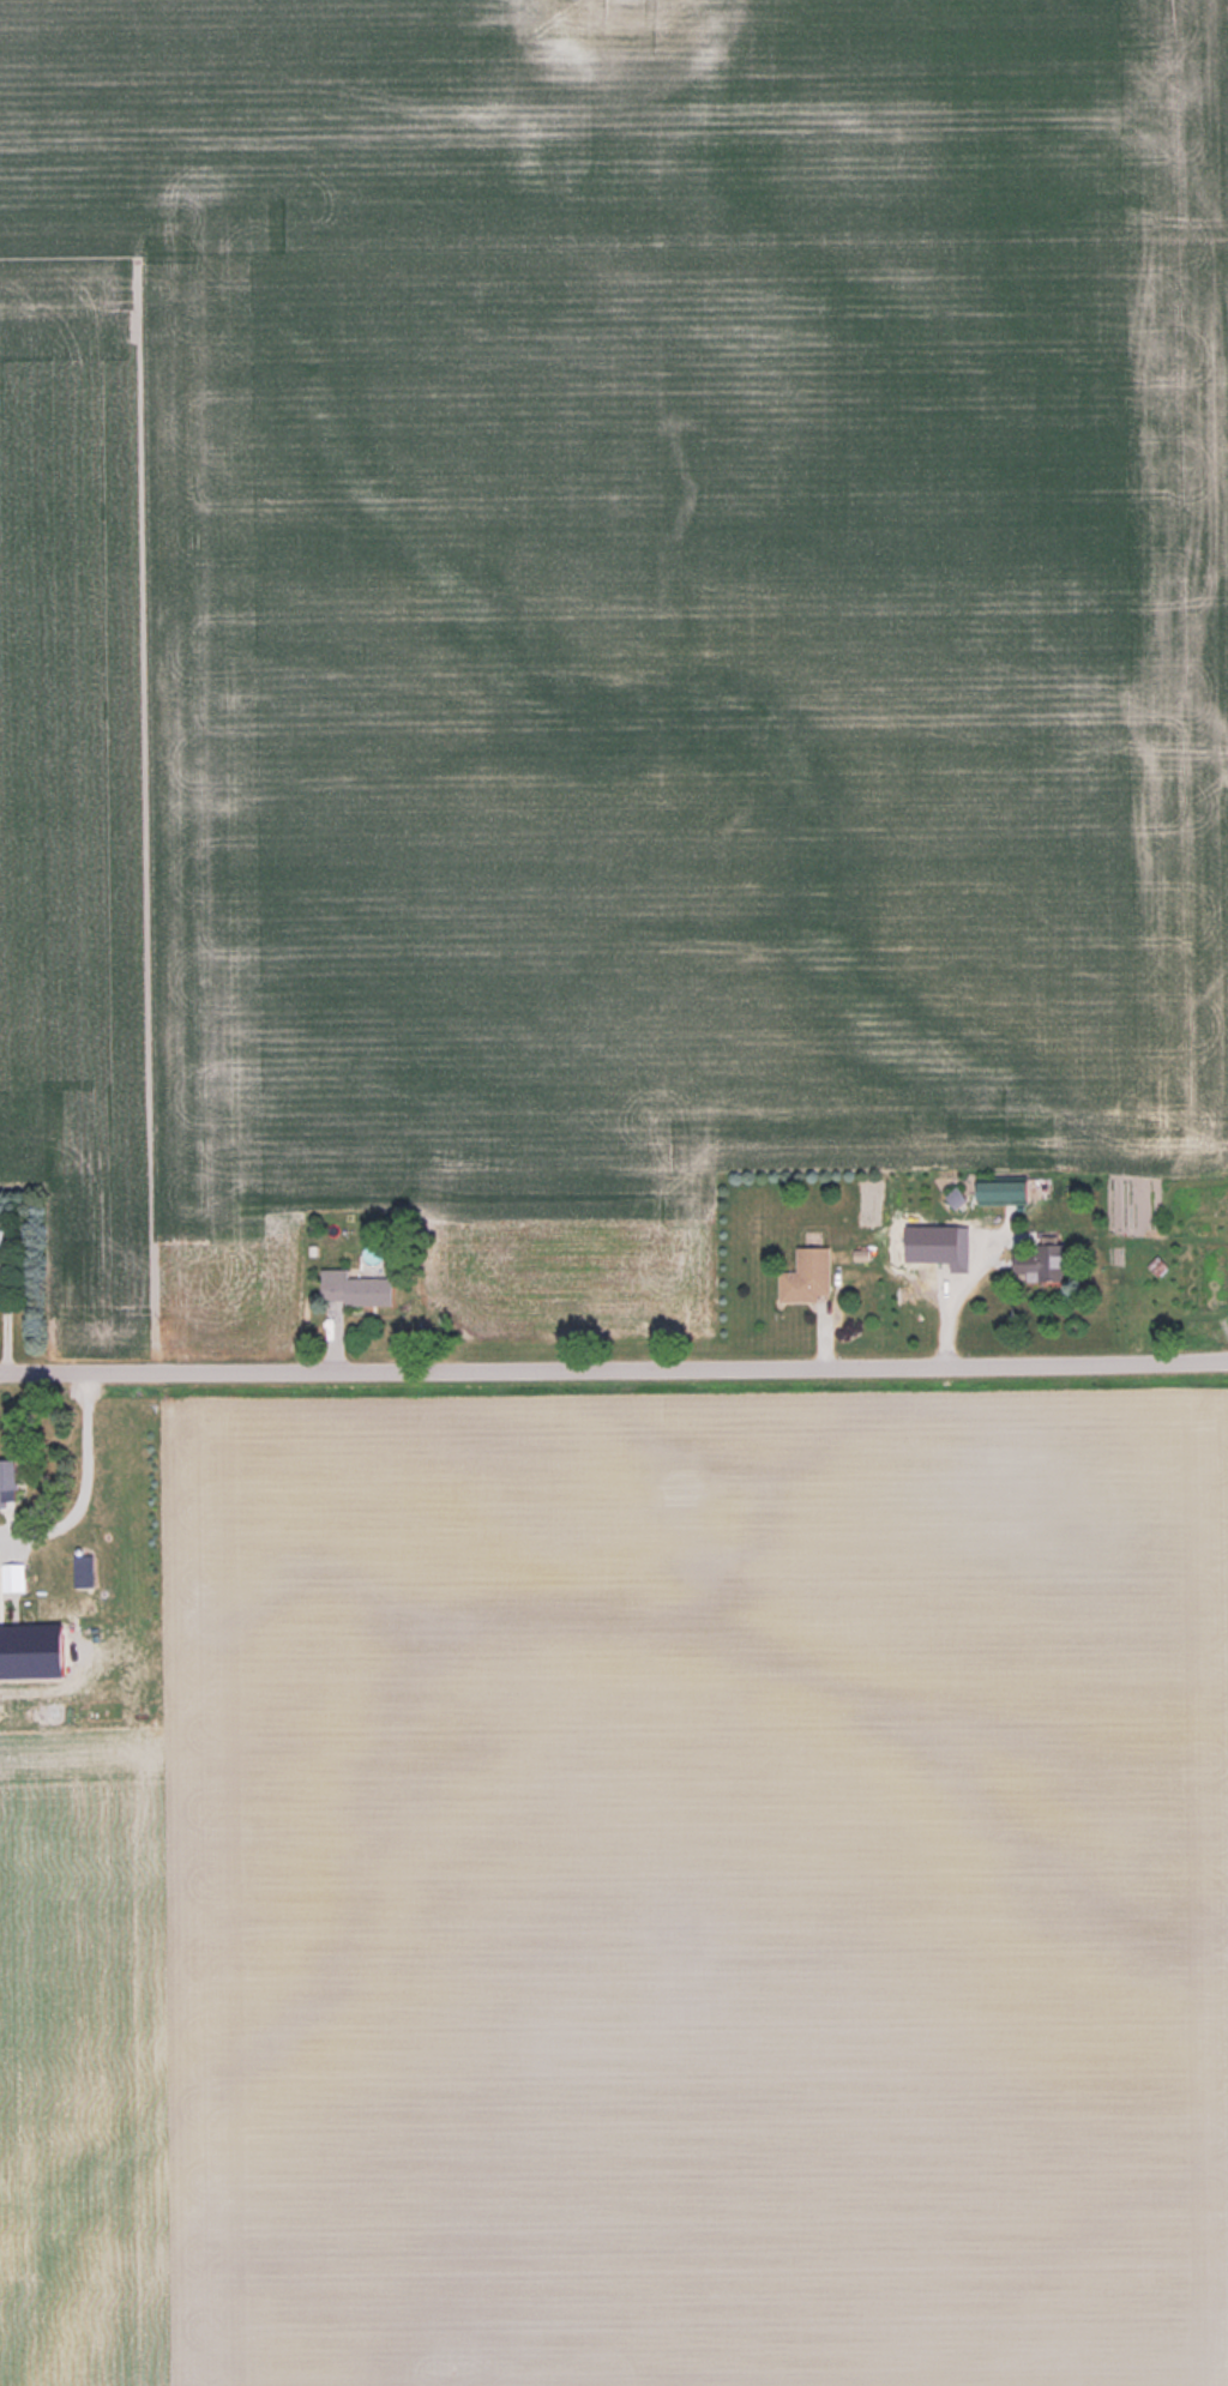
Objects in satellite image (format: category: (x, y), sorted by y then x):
building: (0, 1245)
building: (925, 1245)
building: (1041, 1260)
building: (807, 1276)
building: (356, 1288)
road: (614, 1367)
building: (7, 1481)
building: (13, 1575)

